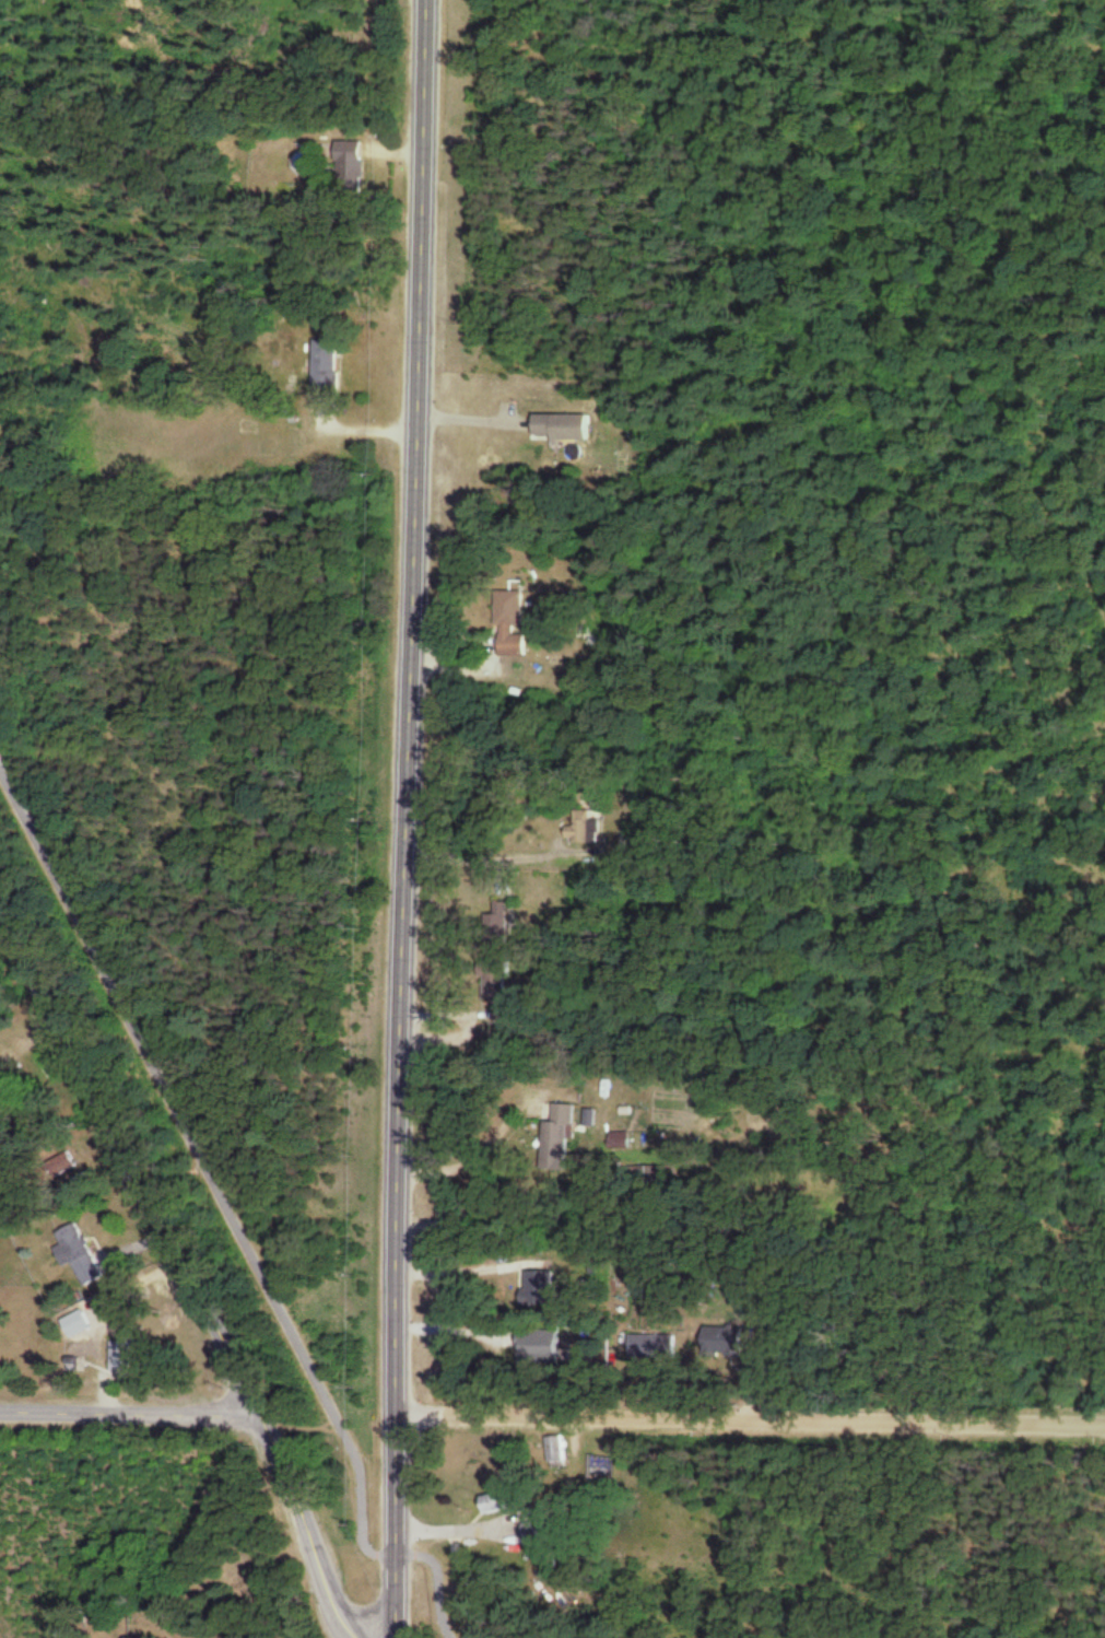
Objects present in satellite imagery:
building: (354, 169)
building: (327, 367)
road: (474, 421)
building: (567, 428)
building: (518, 646)
road: (408, 818)
building: (586, 827)
road: (482, 859)
building: (517, 1008)
building: (563, 1134)
road: (478, 1148)
road: (238, 1218)
building: (82, 1254)
road: (193, 1266)
road: (466, 1266)
building: (541, 1289)
building: (1, 1298)
road: (110, 1313)
road: (458, 1330)
building: (725, 1343)
building: (544, 1347)
building: (654, 1348)
building: (124, 1356)
road: (133, 1411)
road: (754, 1418)
building: (561, 1452)
building: (508, 1504)
building: (543, 1535)

